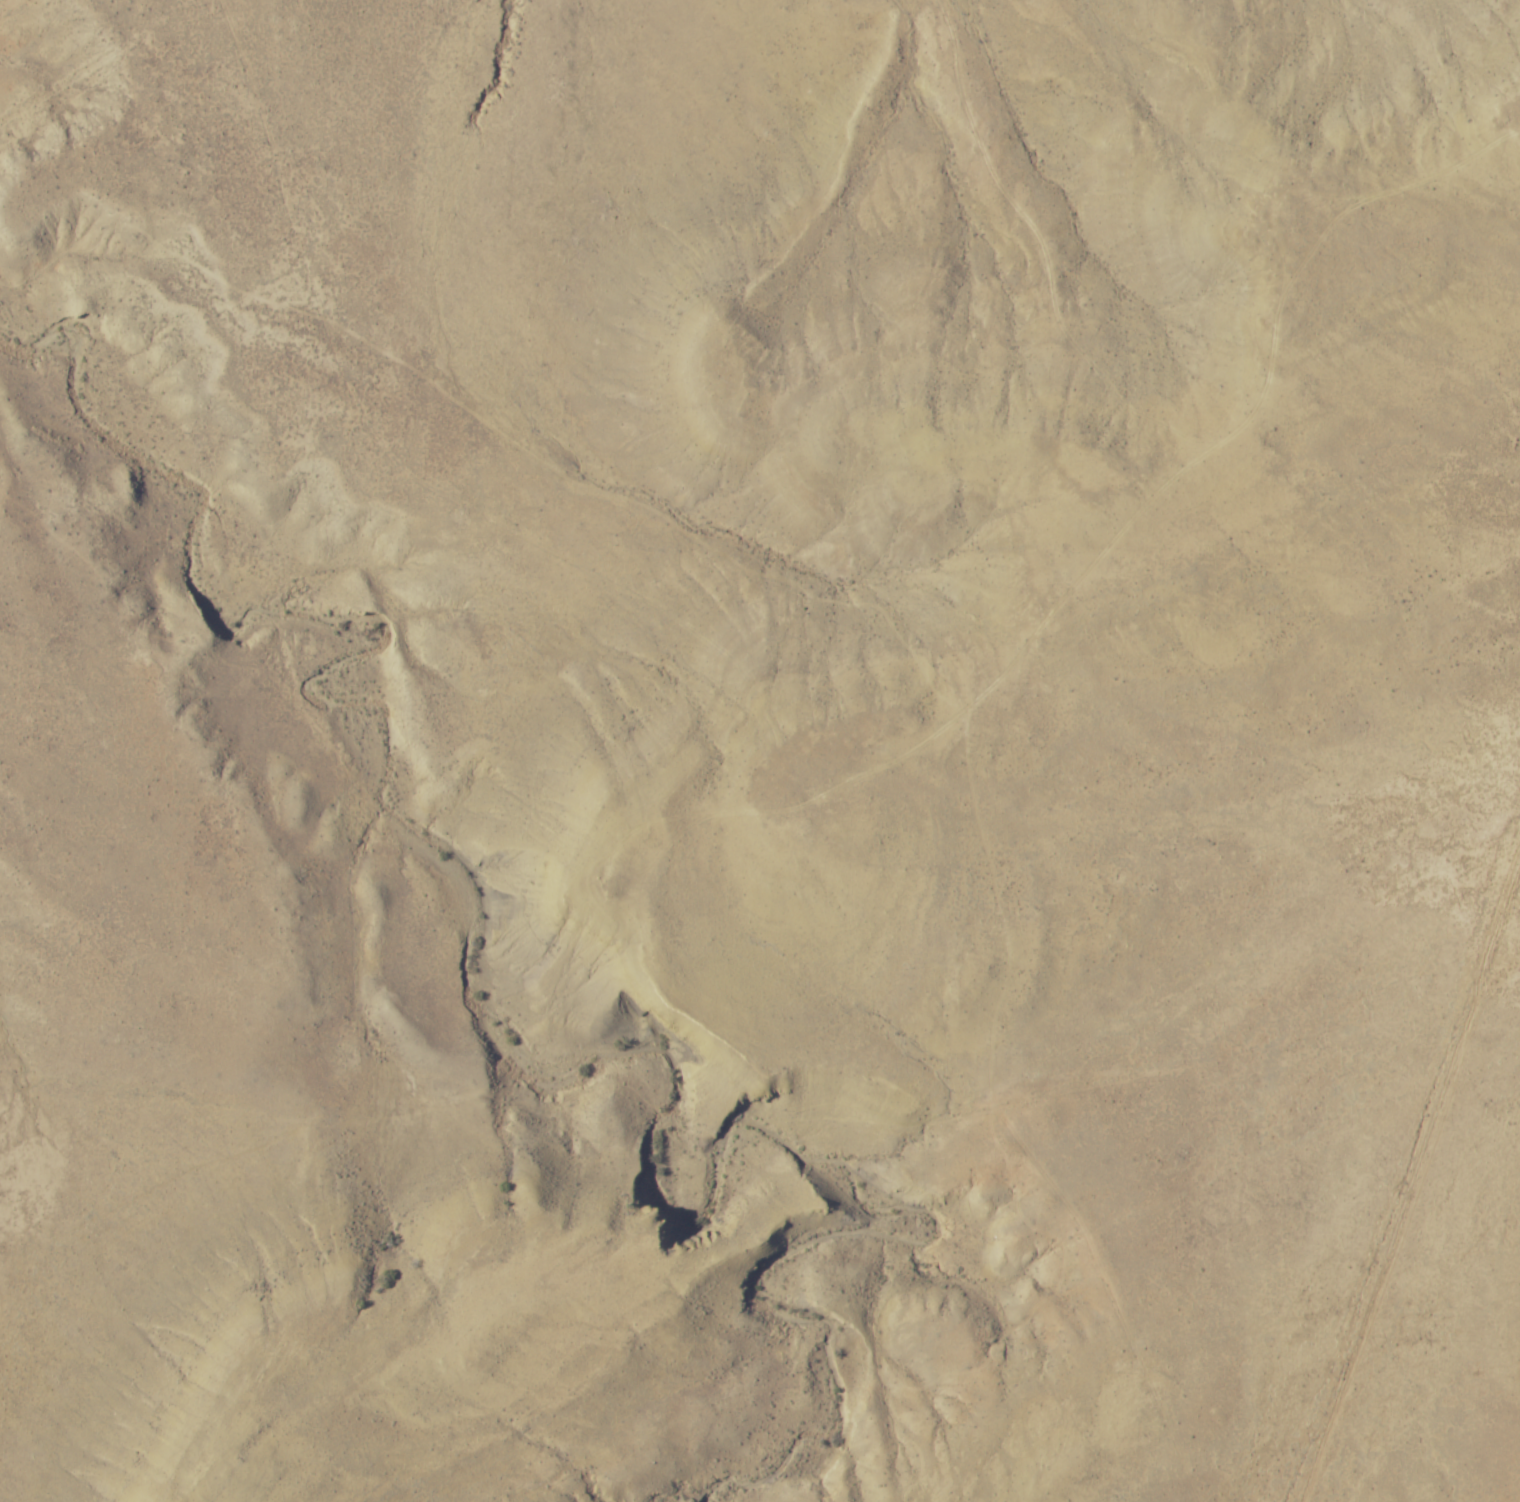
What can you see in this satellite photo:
road: (1420, 1157)

